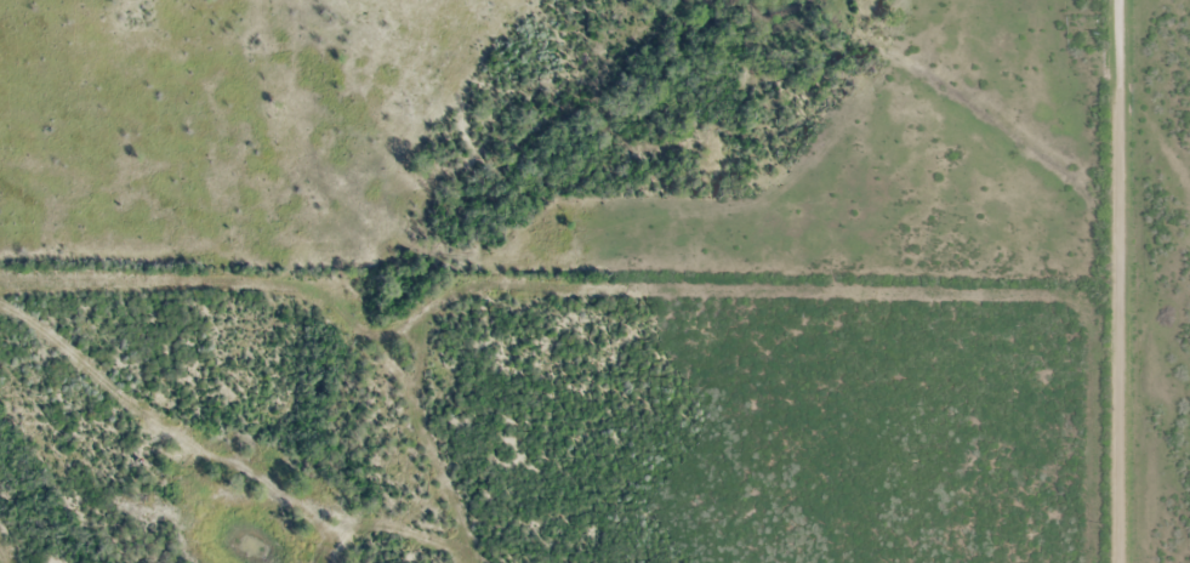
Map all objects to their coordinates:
road: (1116, 281)

